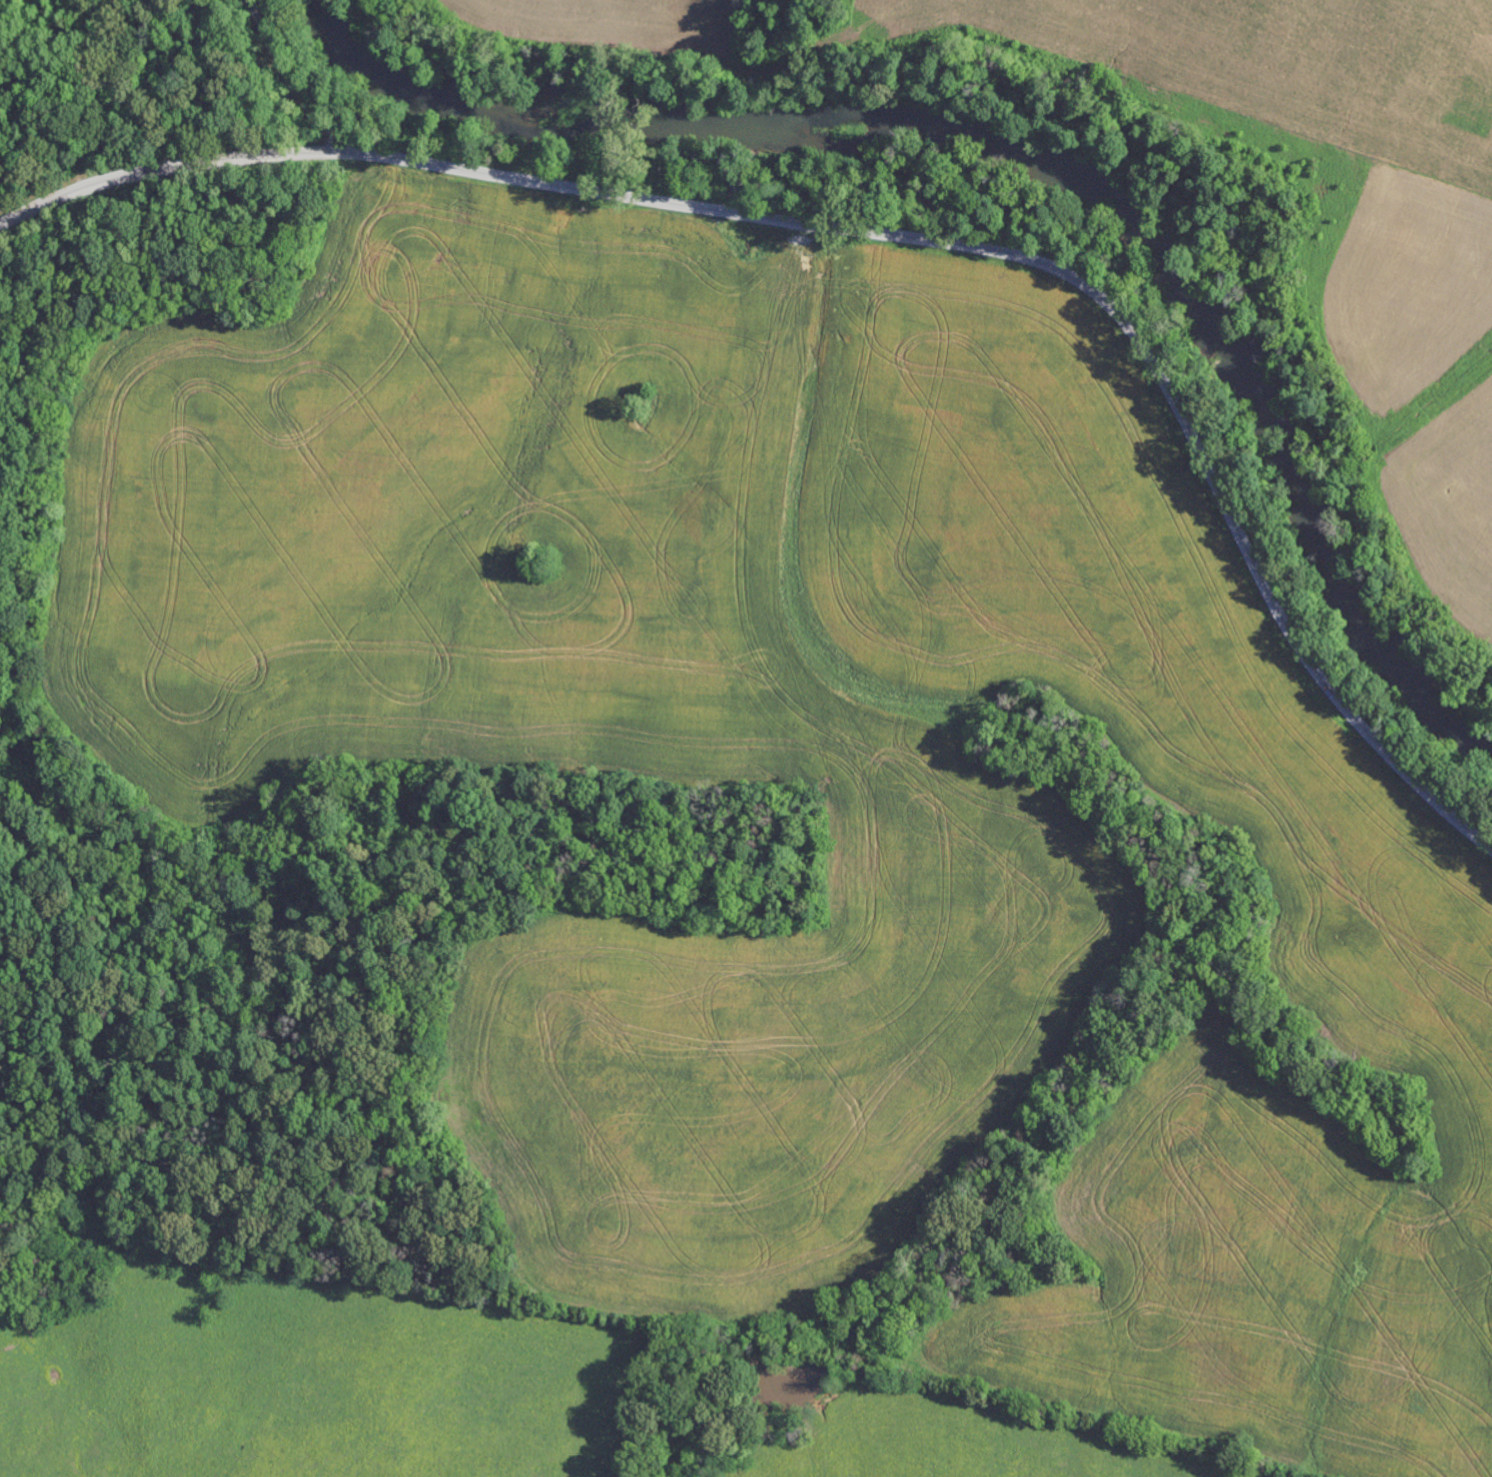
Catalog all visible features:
road: (232, 61)
road: (111, 98)
road: (889, 238)

